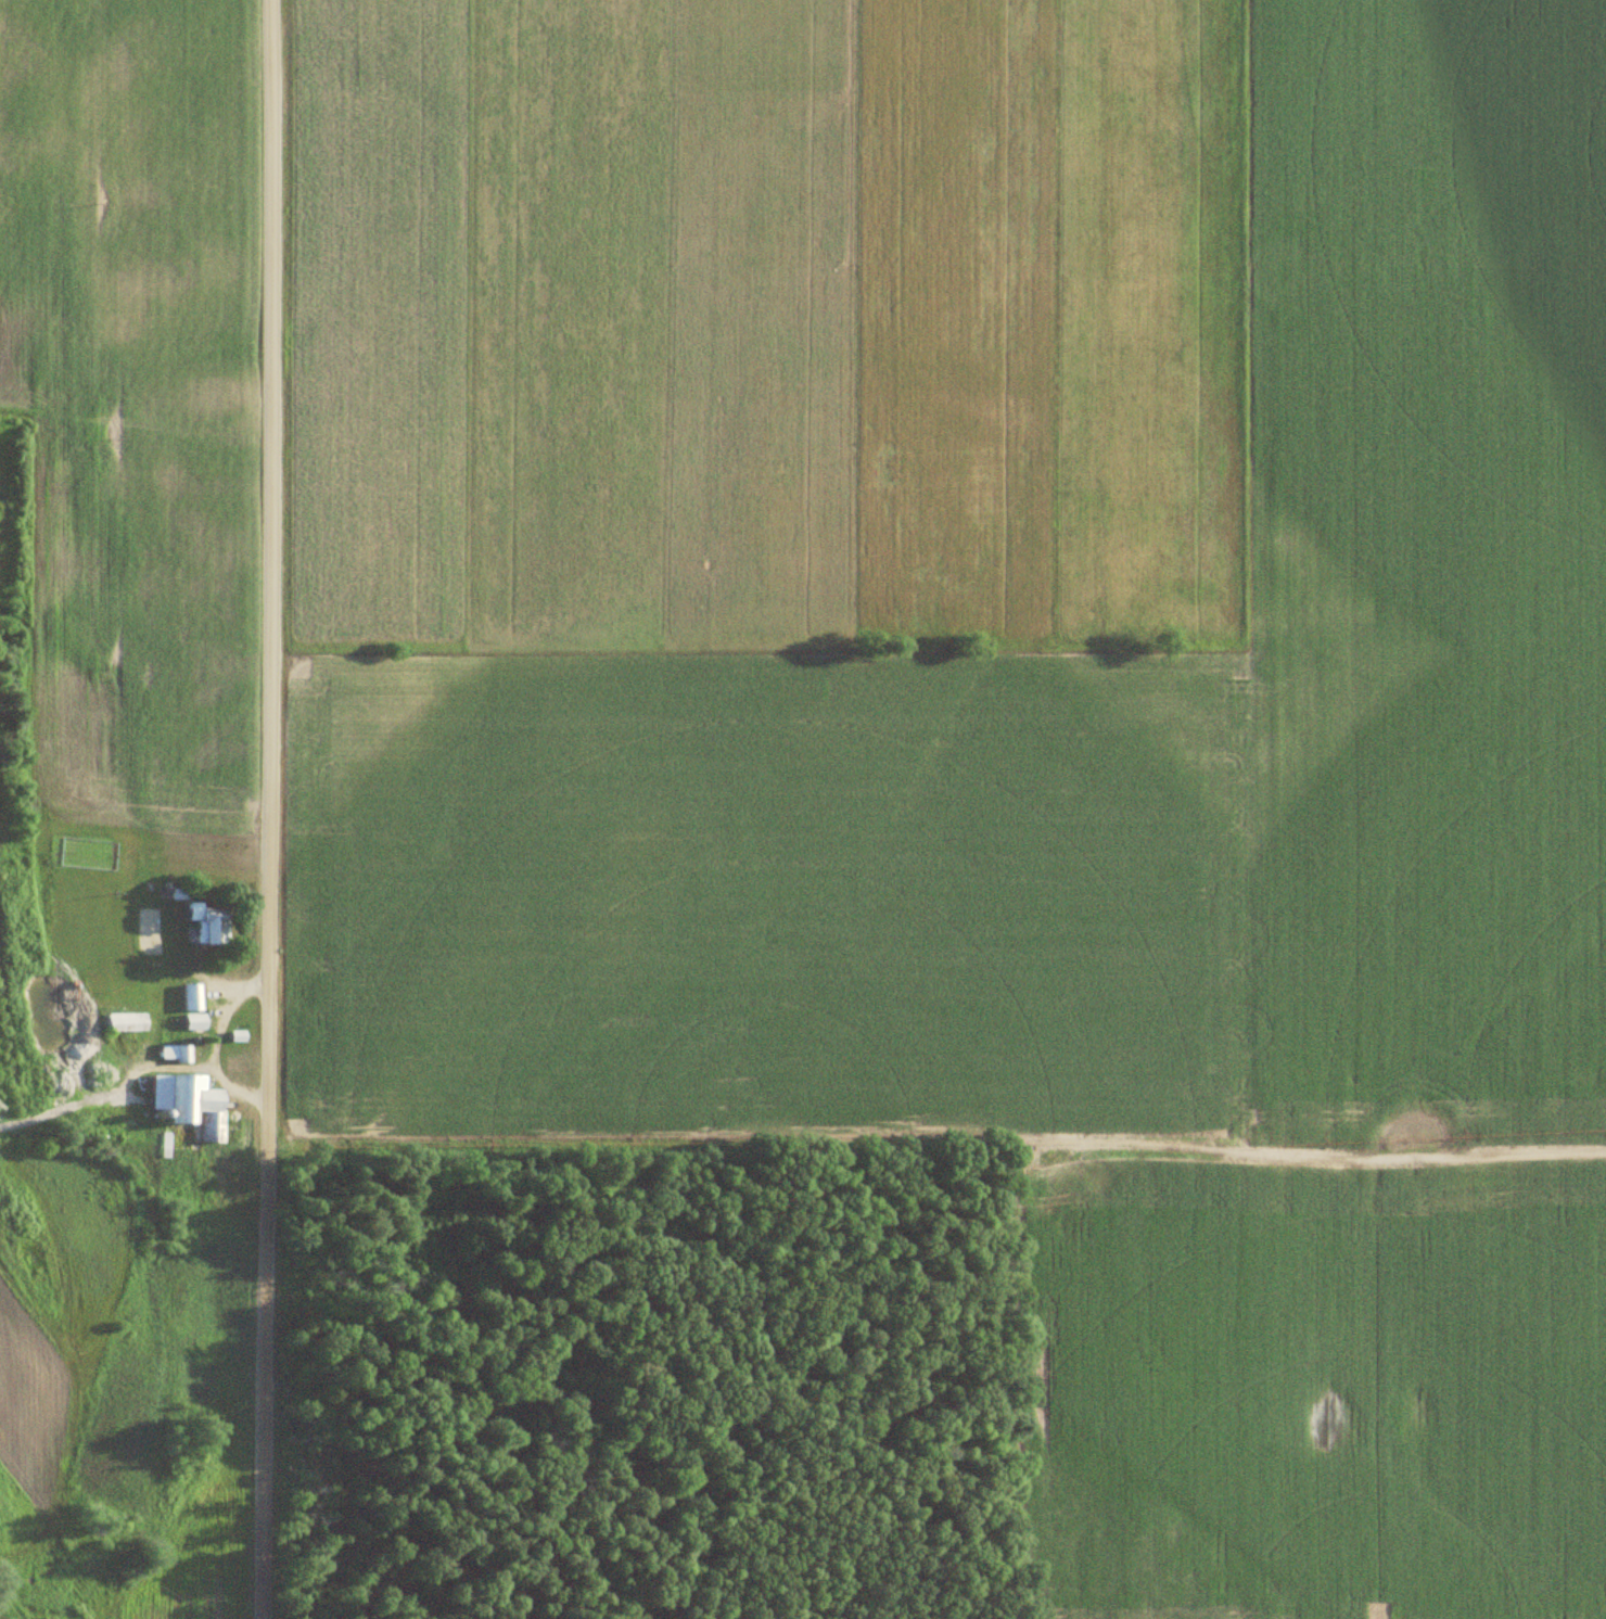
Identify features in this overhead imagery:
road: (268, 809)
building: (241, 846)
building: (214, 926)
building: (192, 997)
building: (126, 1022)
building: (194, 1022)
road: (212, 1047)
building: (237, 1059)
building: (196, 1105)

